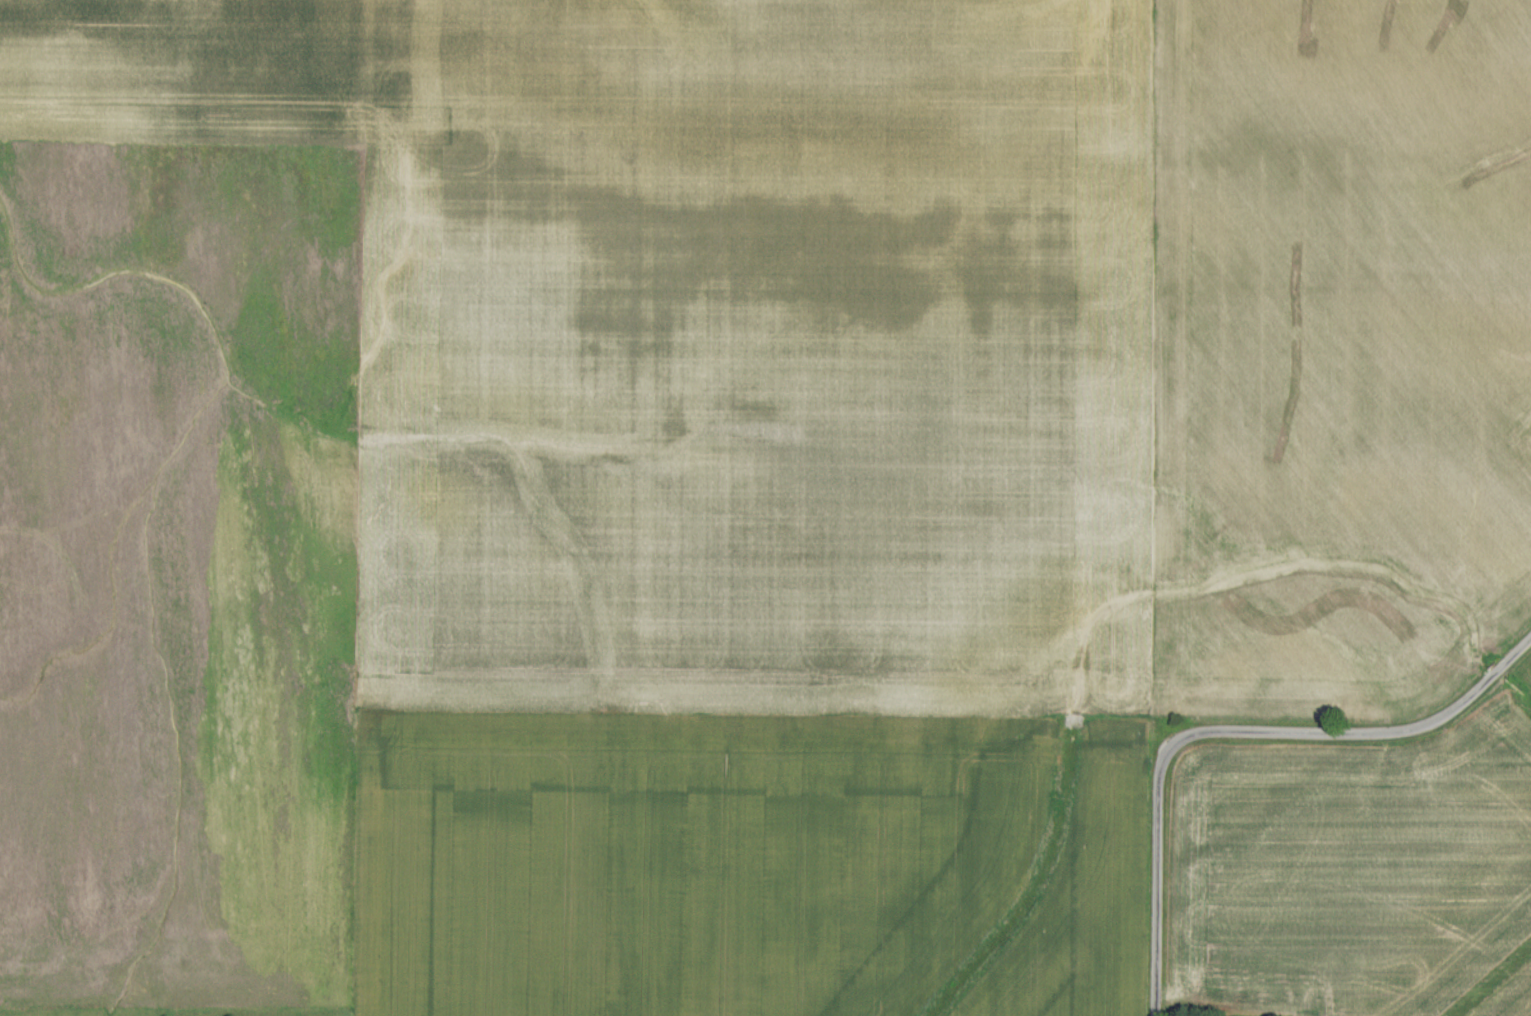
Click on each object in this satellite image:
road: (1228, 731)

